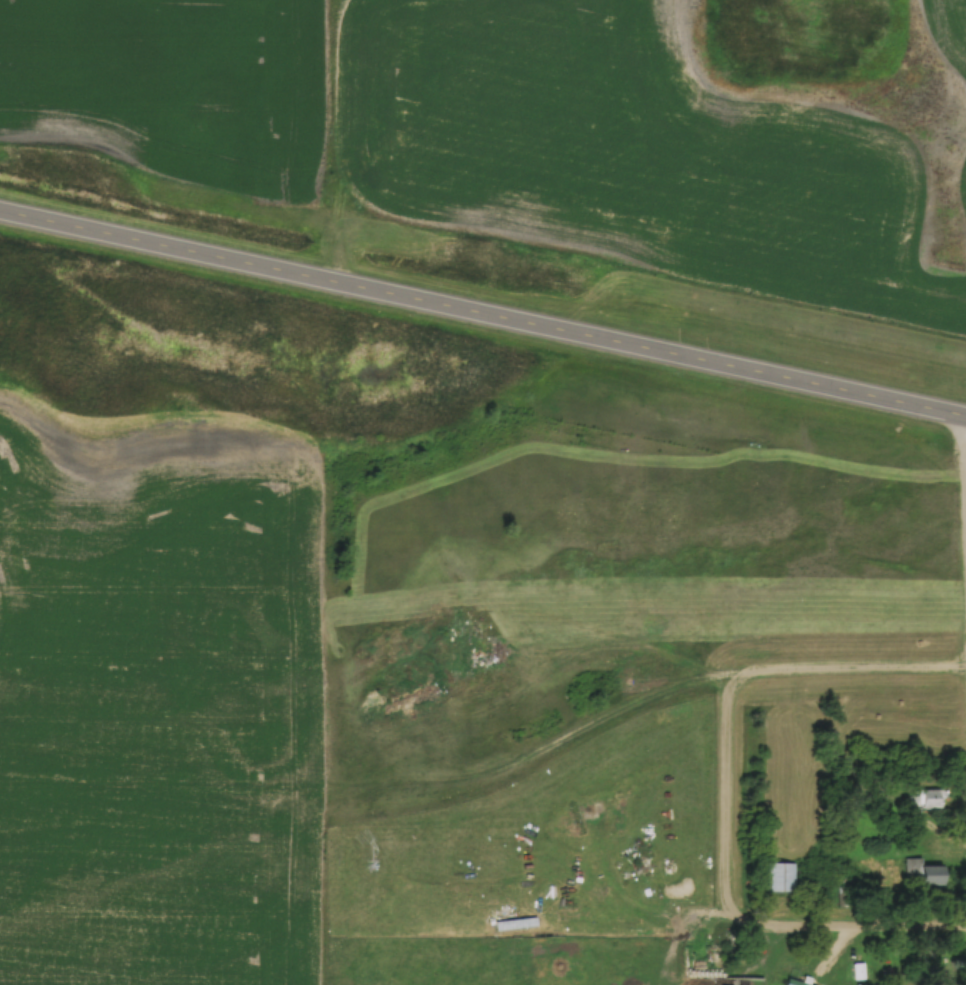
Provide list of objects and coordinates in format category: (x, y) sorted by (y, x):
road: (483, 315)
road: (655, 694)
building: (922, 798)
building: (919, 872)
building: (778, 876)
road: (734, 910)
building: (923, 966)
building: (795, 981)
building: (724, 984)

